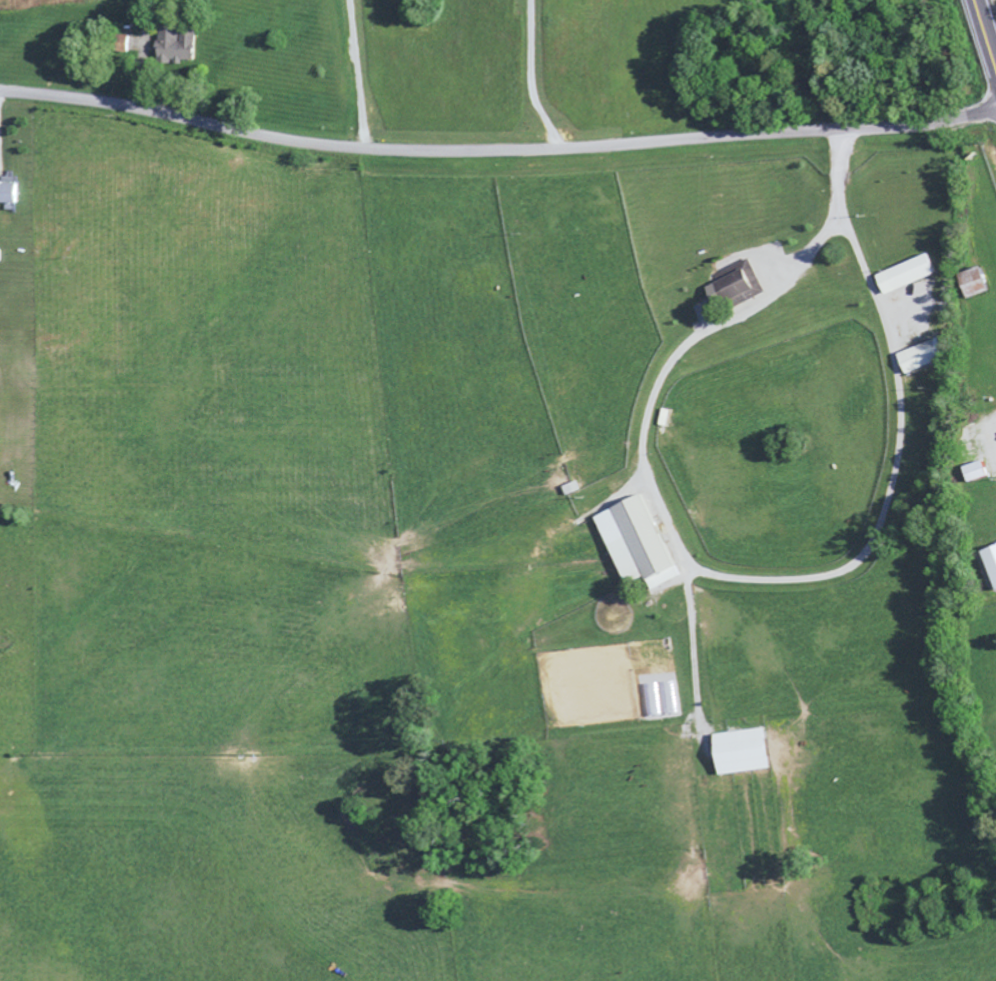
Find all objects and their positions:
road: (987, 27)
building: (131, 42)
building: (186, 44)
road: (496, 153)
building: (13, 192)
building: (915, 274)
building: (983, 282)
building: (932, 355)
building: (985, 471)
building: (644, 539)
building: (990, 561)
road: (697, 565)
building: (753, 750)

